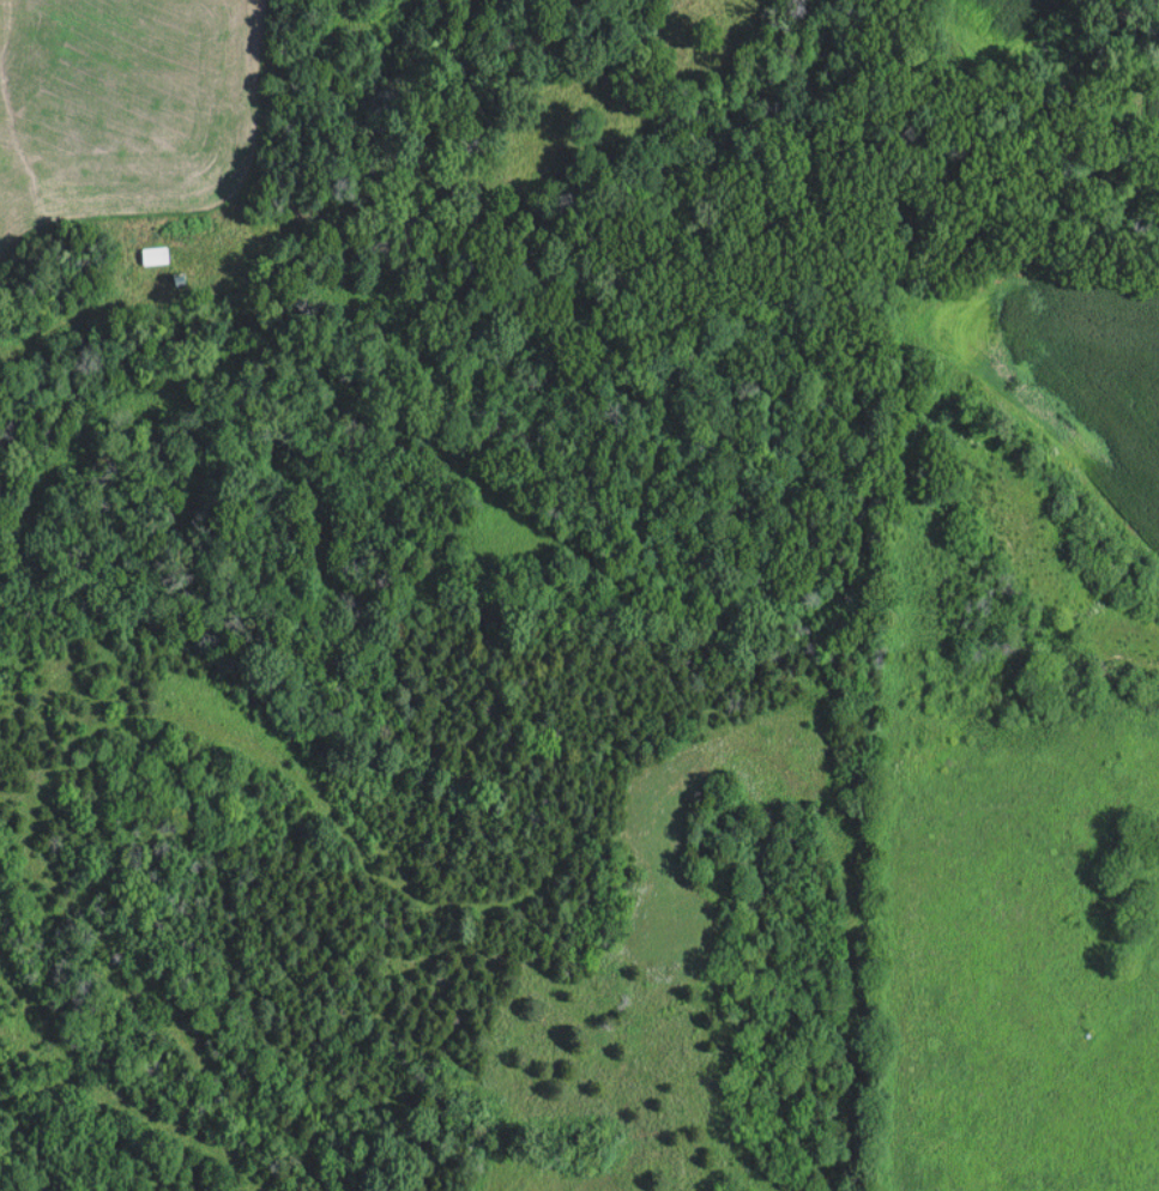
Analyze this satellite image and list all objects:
road: (1141, 876)

